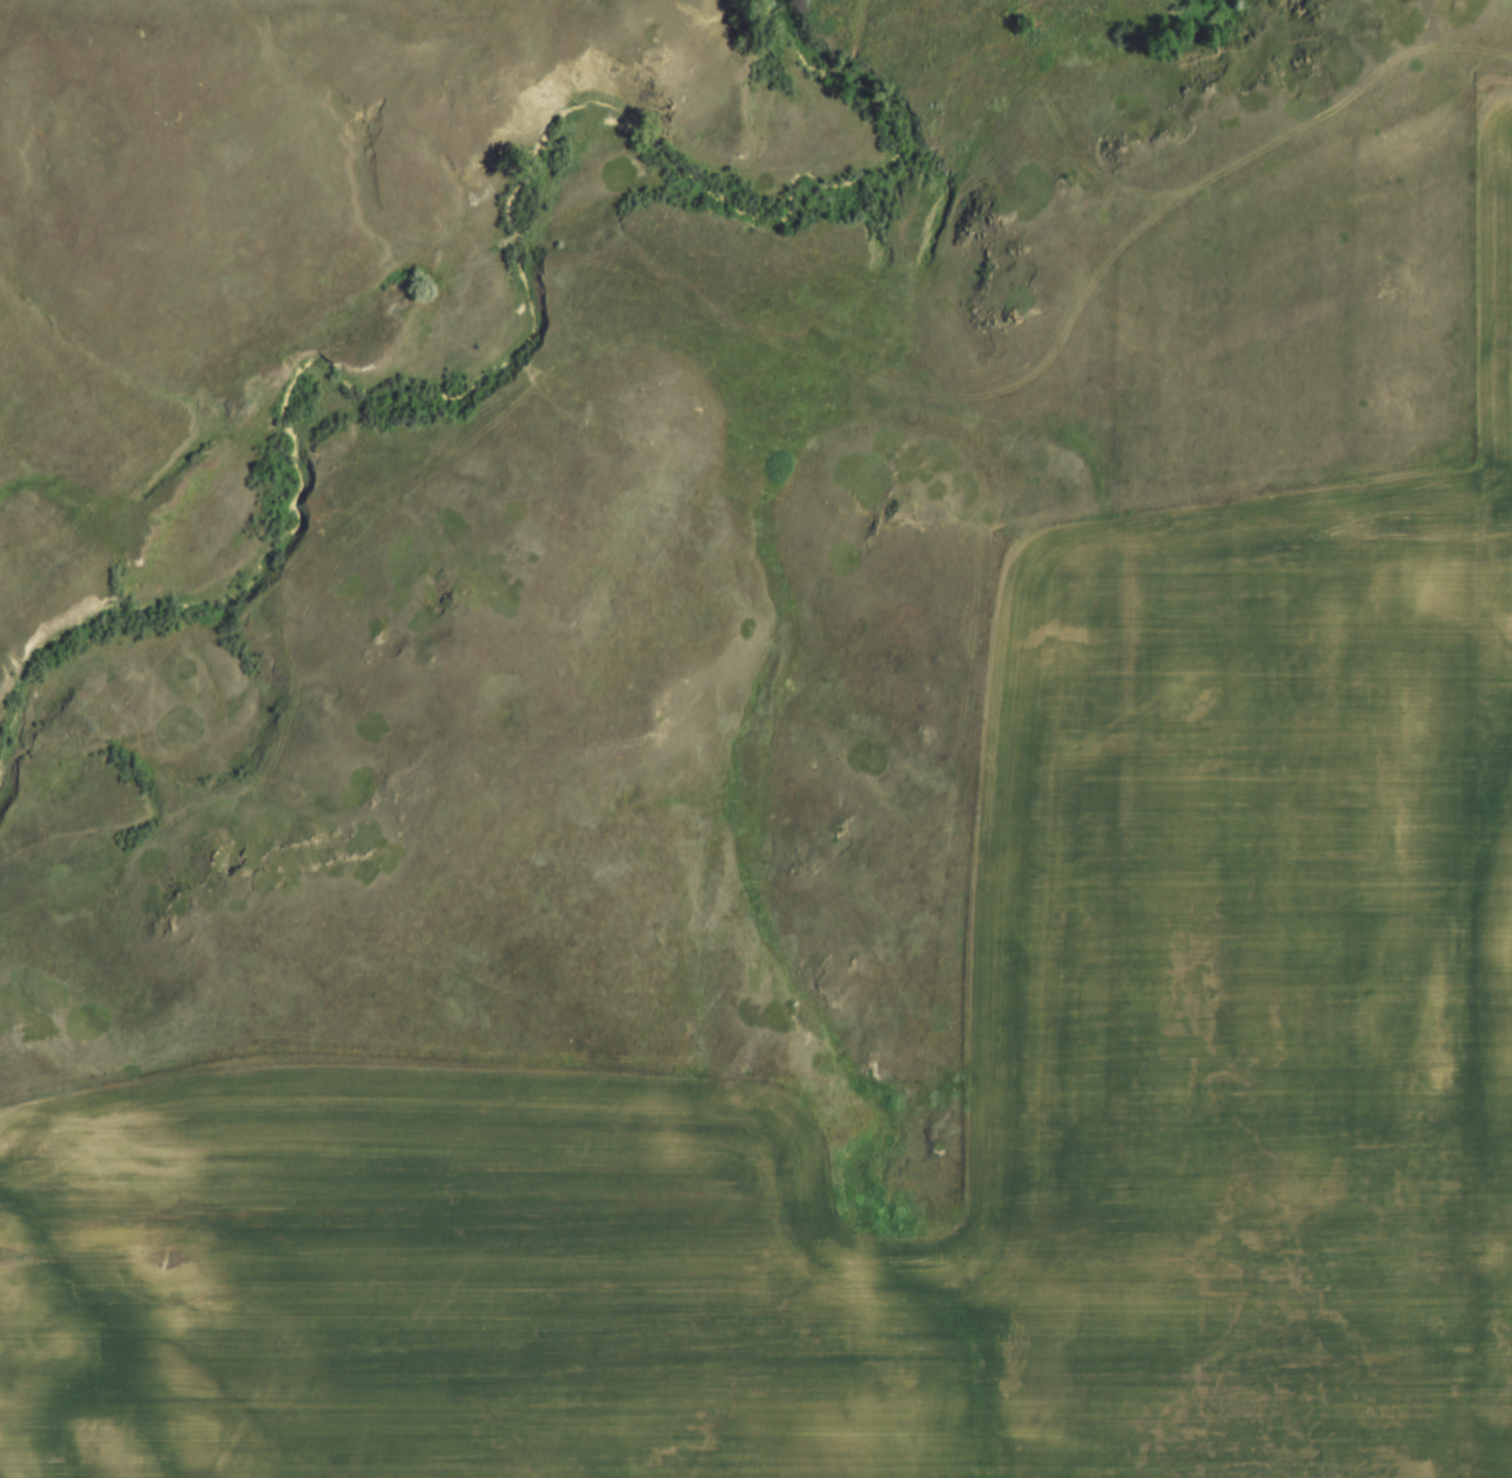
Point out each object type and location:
road: (1272, 155)

